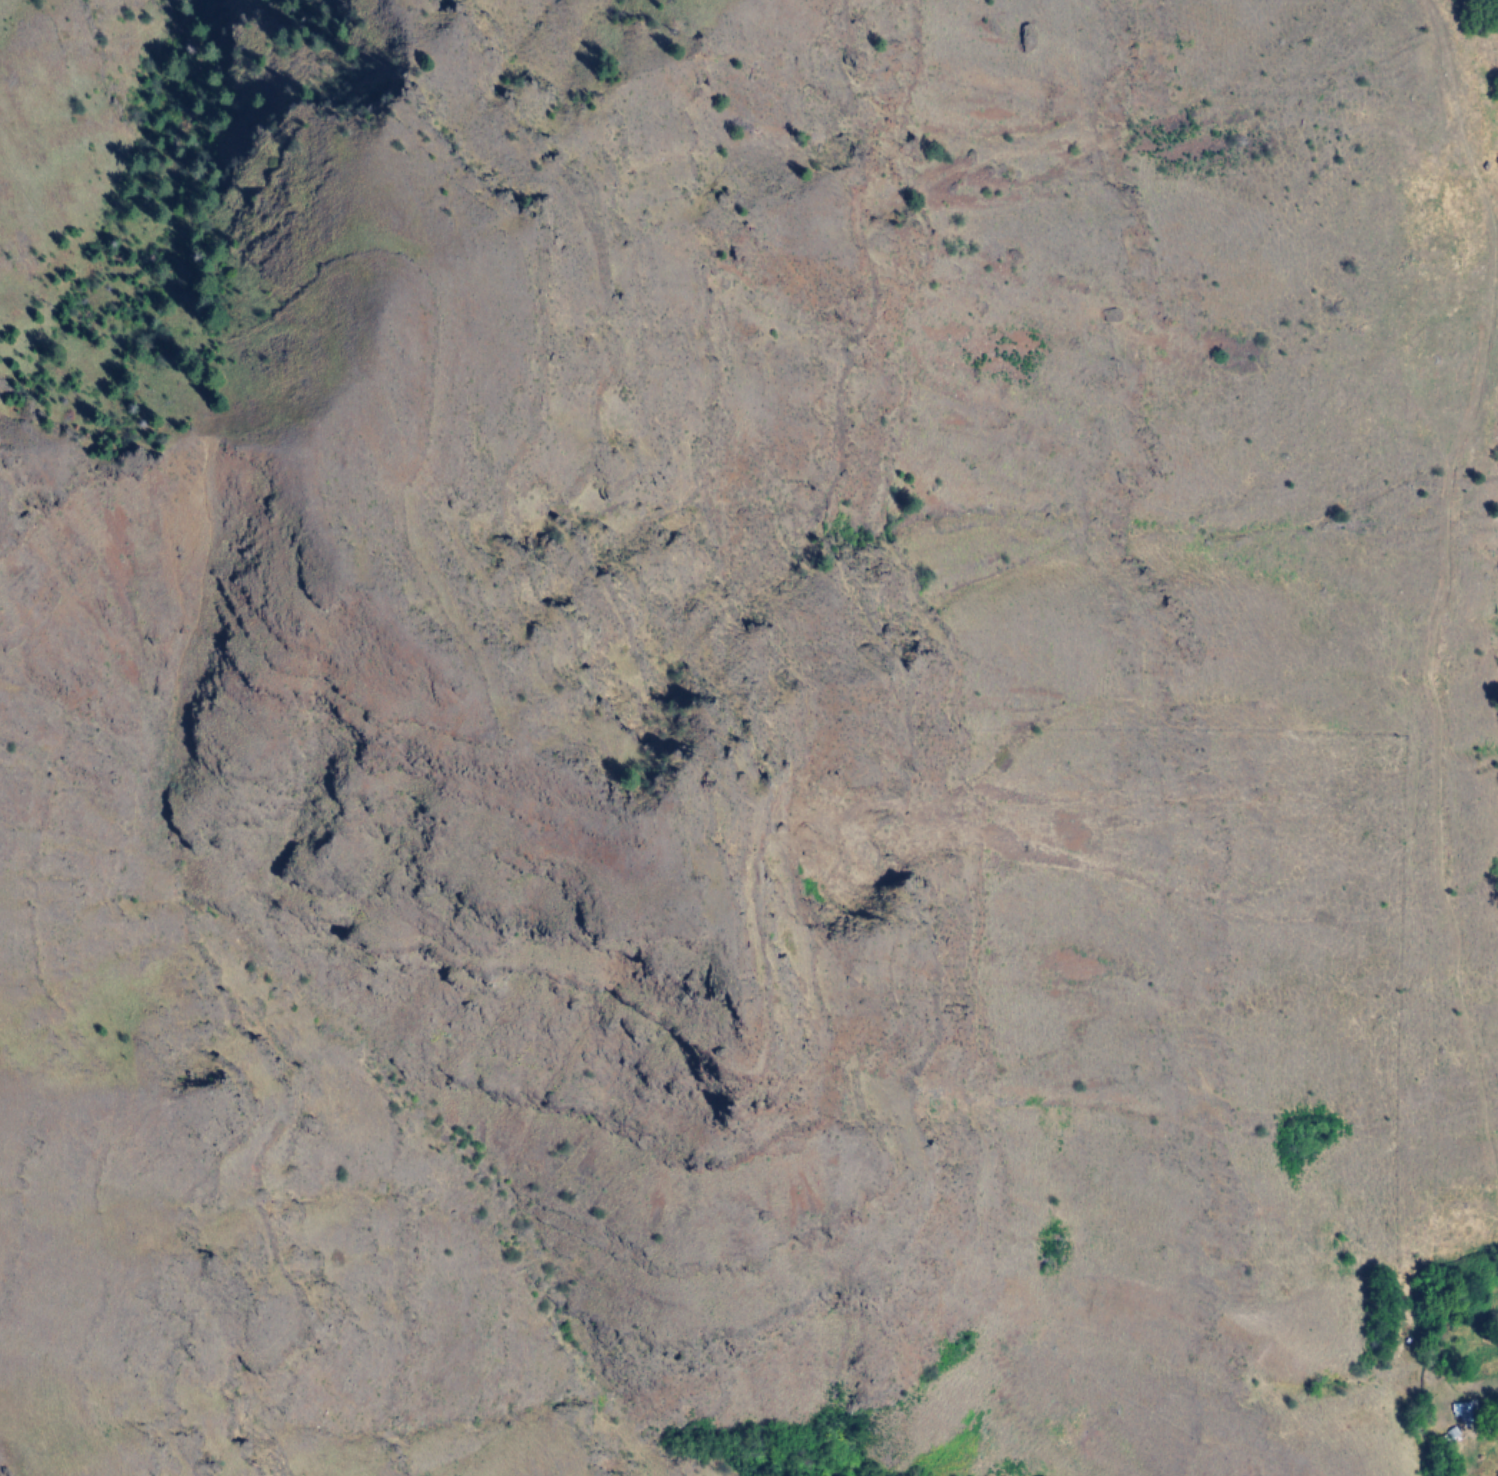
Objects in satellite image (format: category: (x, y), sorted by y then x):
building: (1463, 1413)

